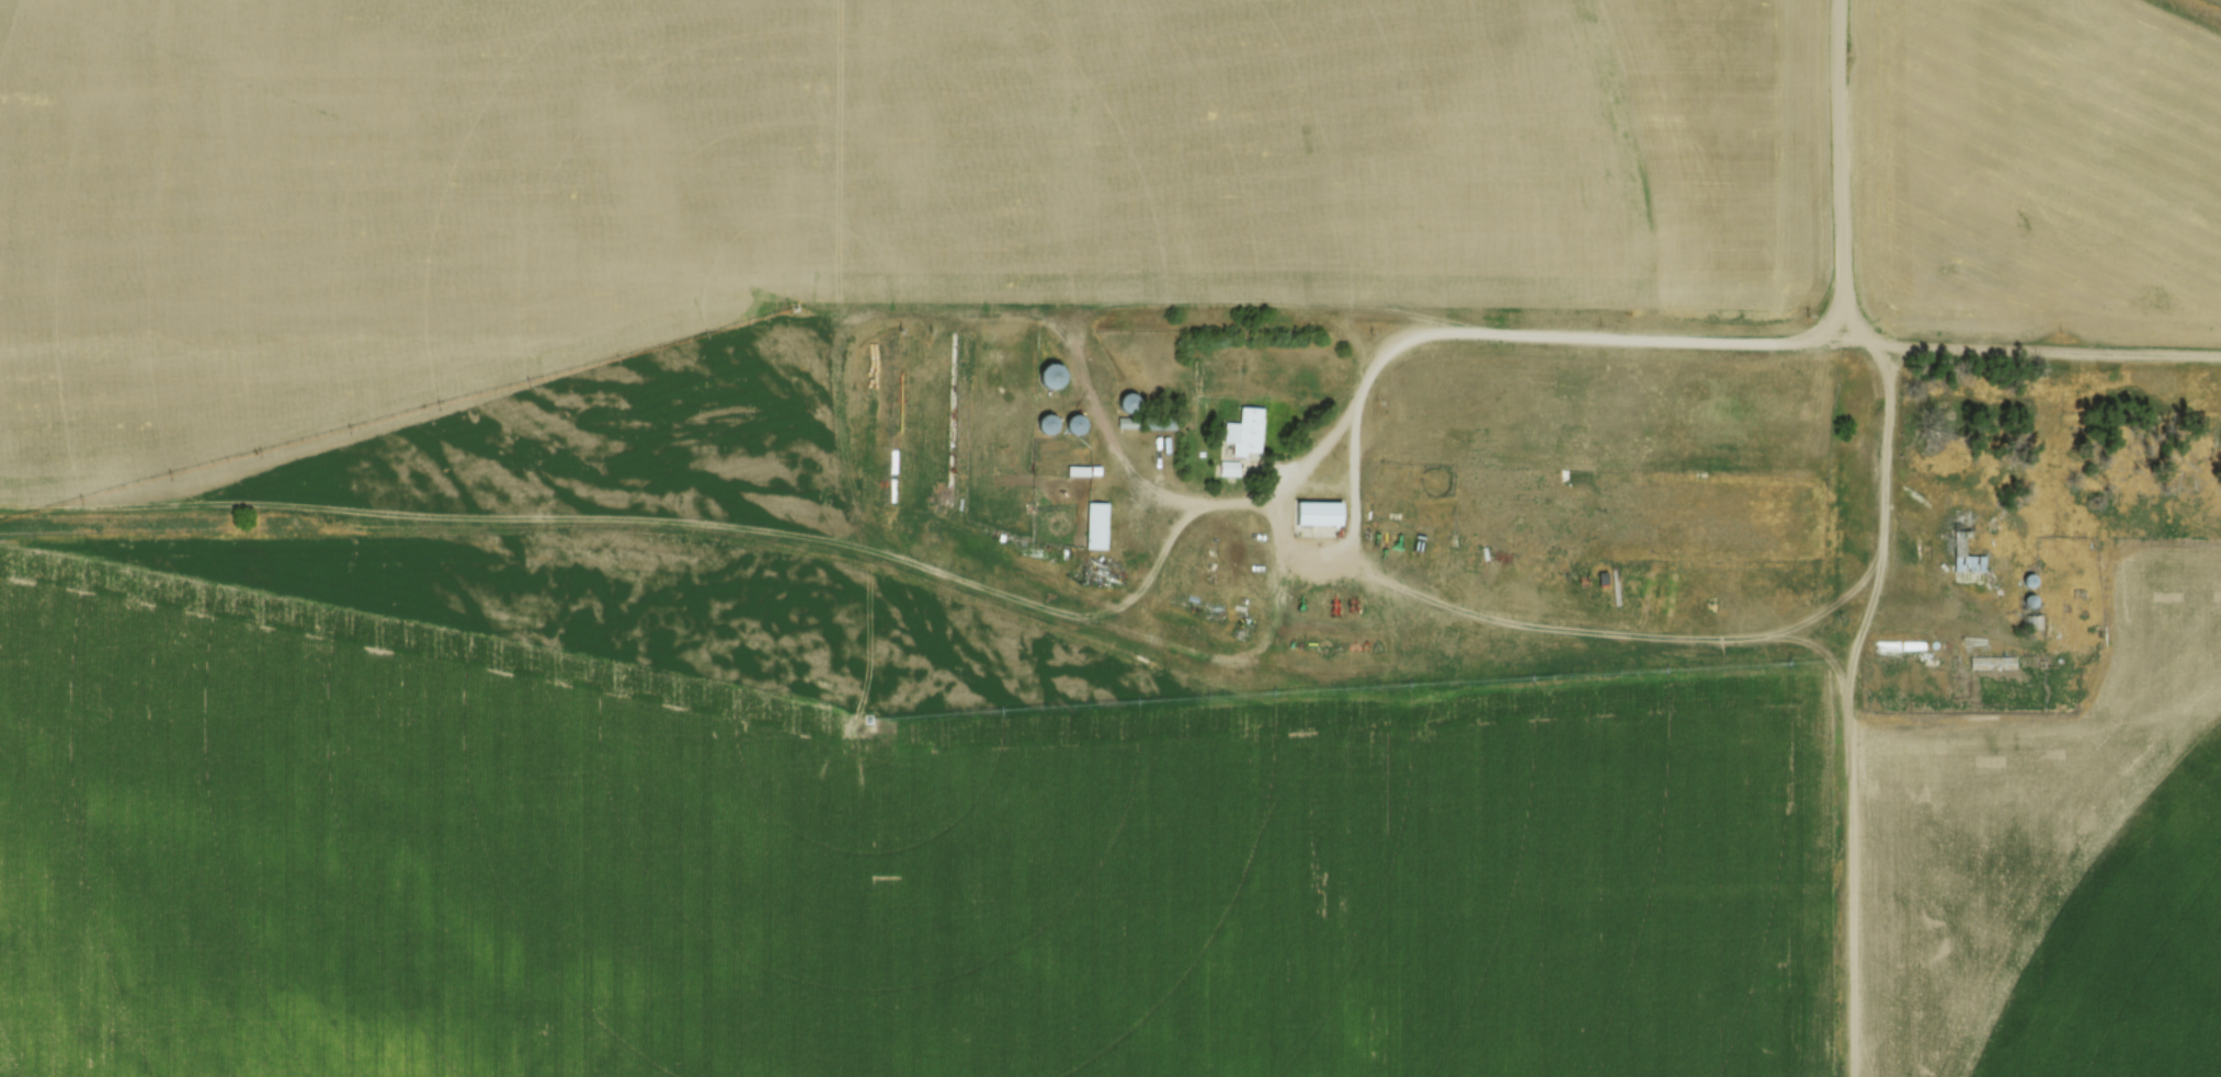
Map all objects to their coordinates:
road: (1831, 174)
road: (1846, 320)
road: (1808, 340)
building: (1075, 424)
building: (1046, 425)
building: (1250, 432)
road: (1299, 471)
building: (1574, 474)
road: (1351, 484)
building: (1321, 513)
building: (1095, 526)
road: (1877, 538)
building: (1964, 559)

